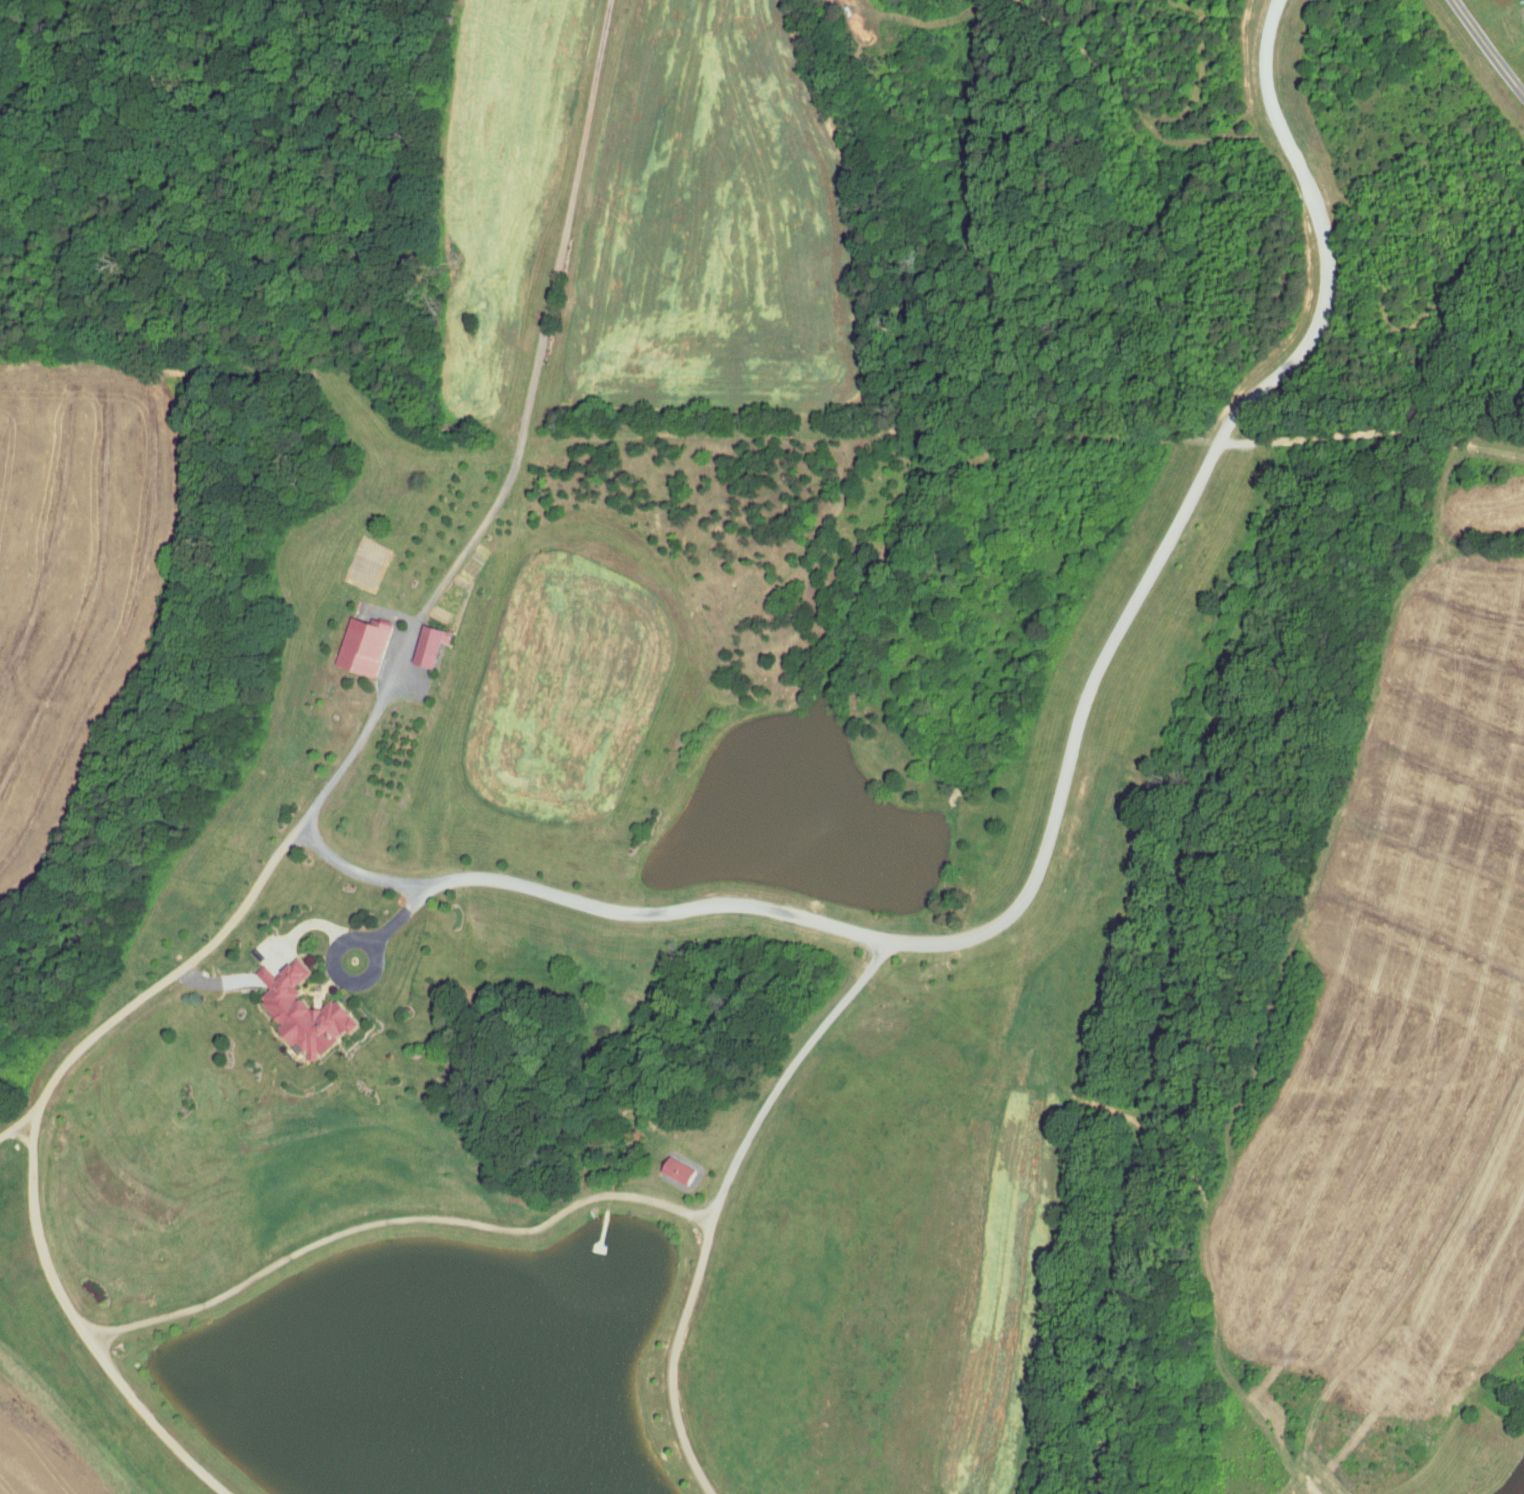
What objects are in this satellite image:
road: (1489, 47)
building: (429, 644)
building: (363, 645)
road: (708, 903)
road: (402, 913)
road: (303, 925)
road: (337, 946)
building: (311, 1014)
park: (455, 1067)
road: (20, 1123)
building: (678, 1170)
road: (719, 1199)
road: (101, 1336)
road: (151, 1420)

